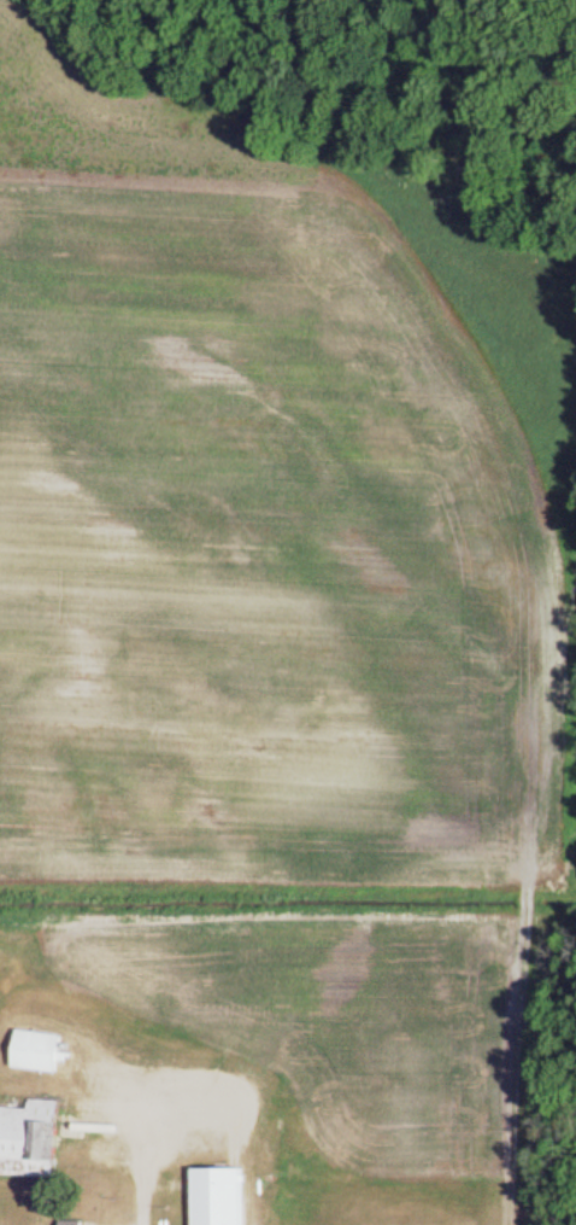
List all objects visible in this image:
building: (43, 1054)
building: (31, 1143)
building: (224, 1197)
building: (77, 1224)

